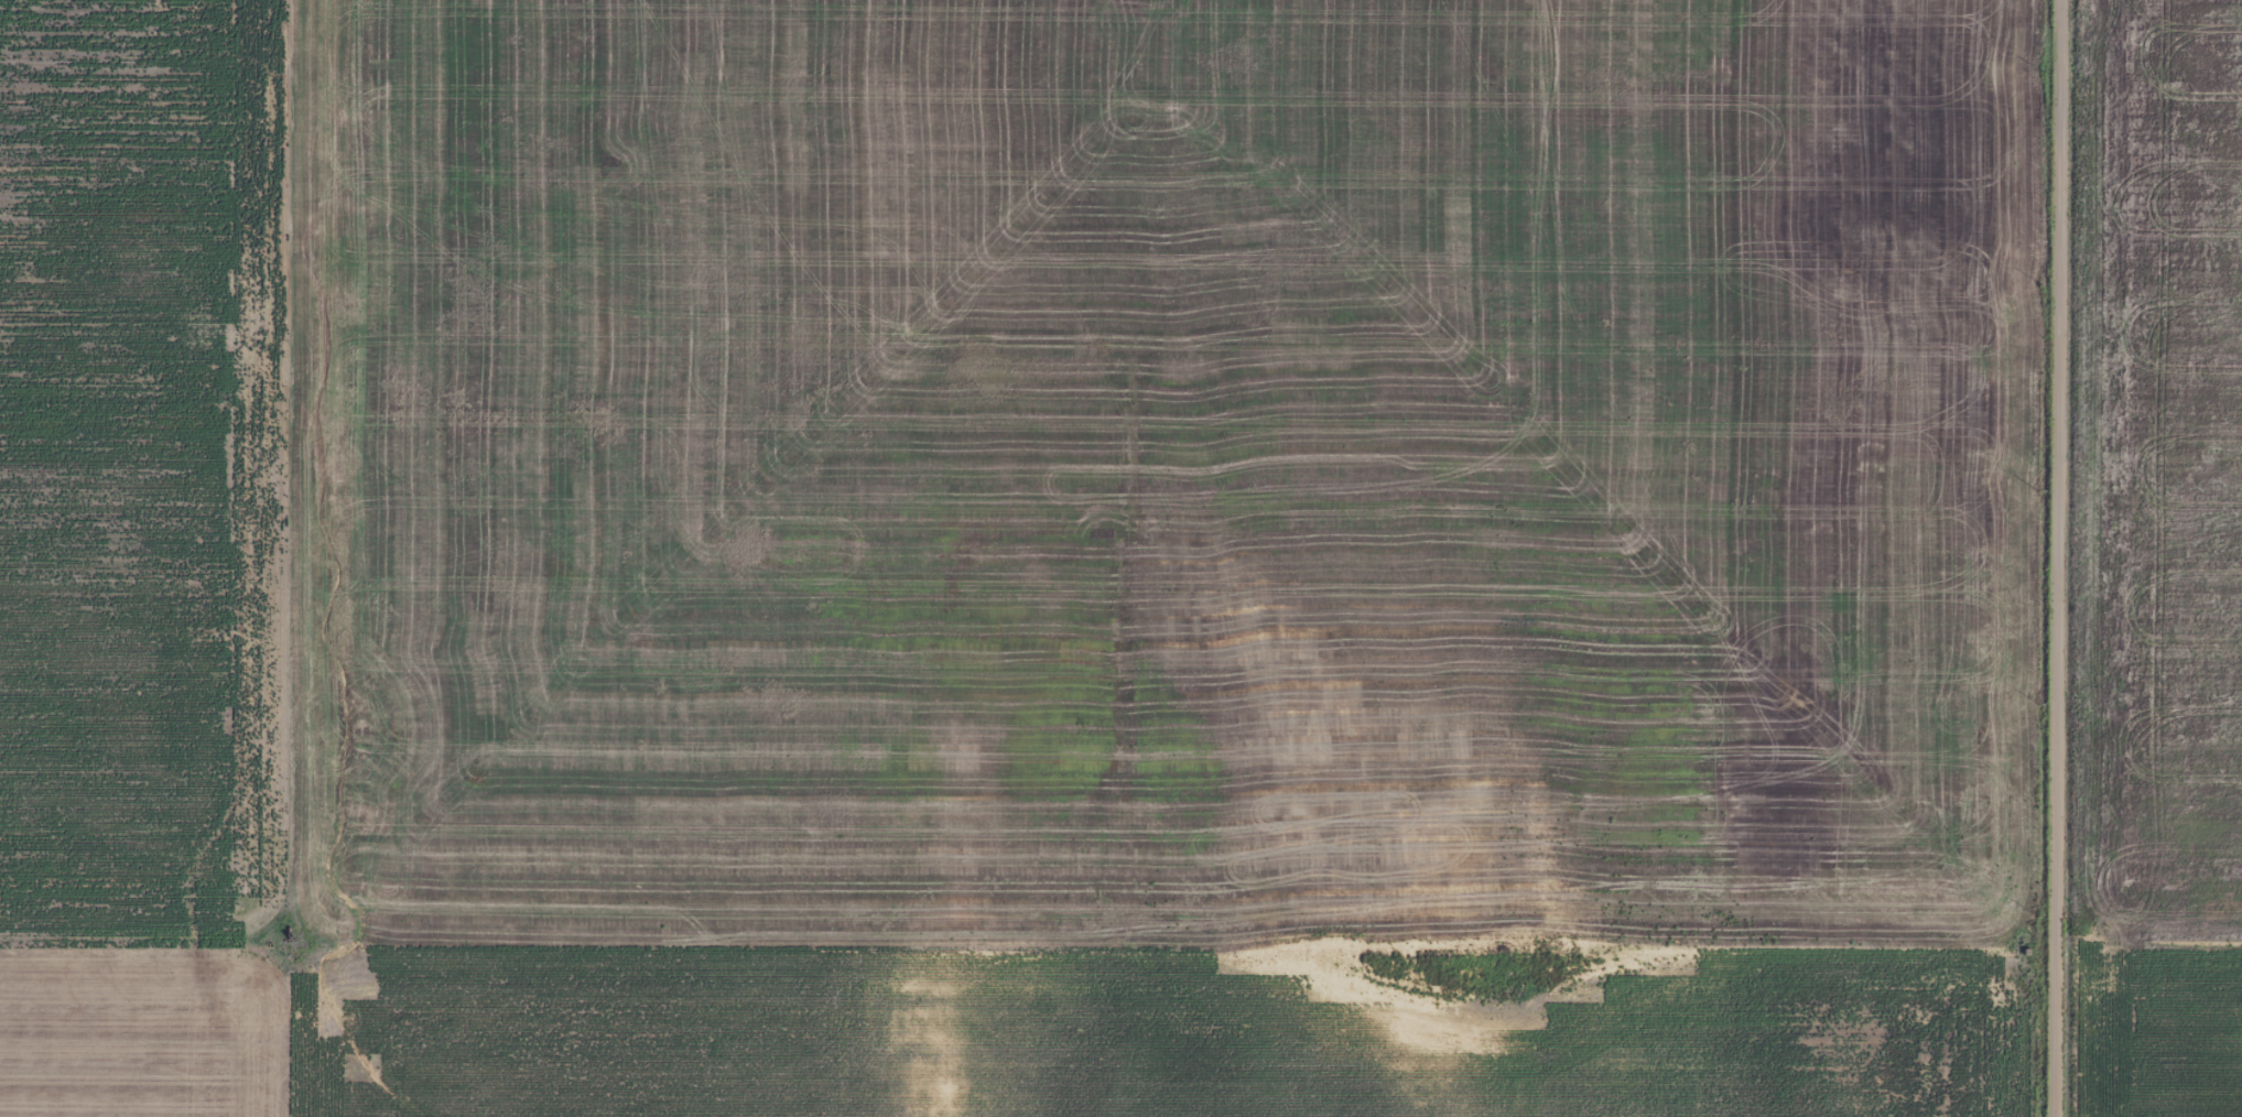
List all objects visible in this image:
building: (2116, 56)
building: (2116, 139)
building: (2119, 405)
road: (2069, 558)

